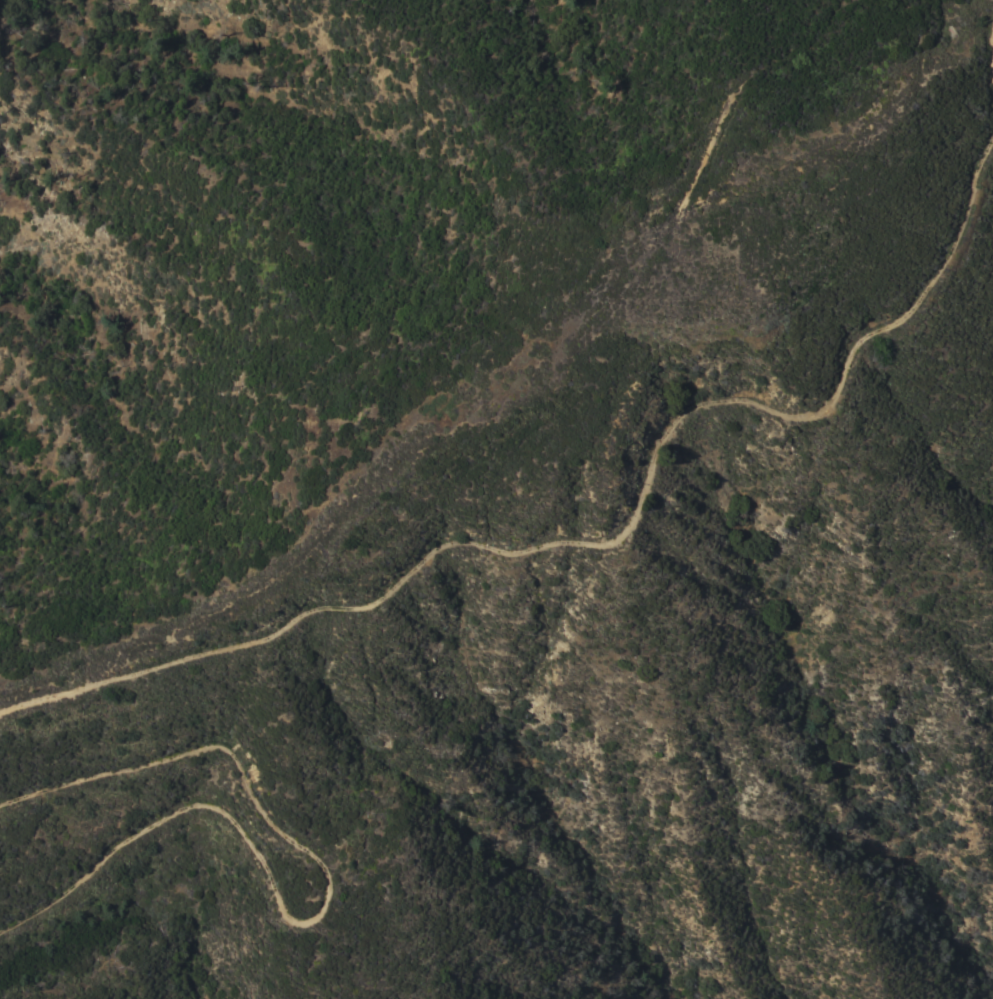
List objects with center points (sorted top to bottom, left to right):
road: (606, 551)
road: (333, 912)

